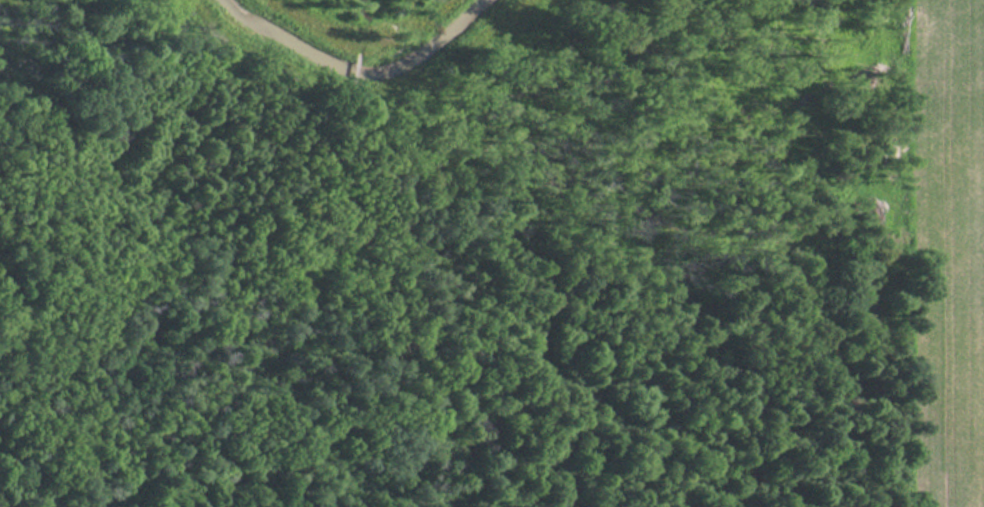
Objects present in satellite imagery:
river: (364, 70)

